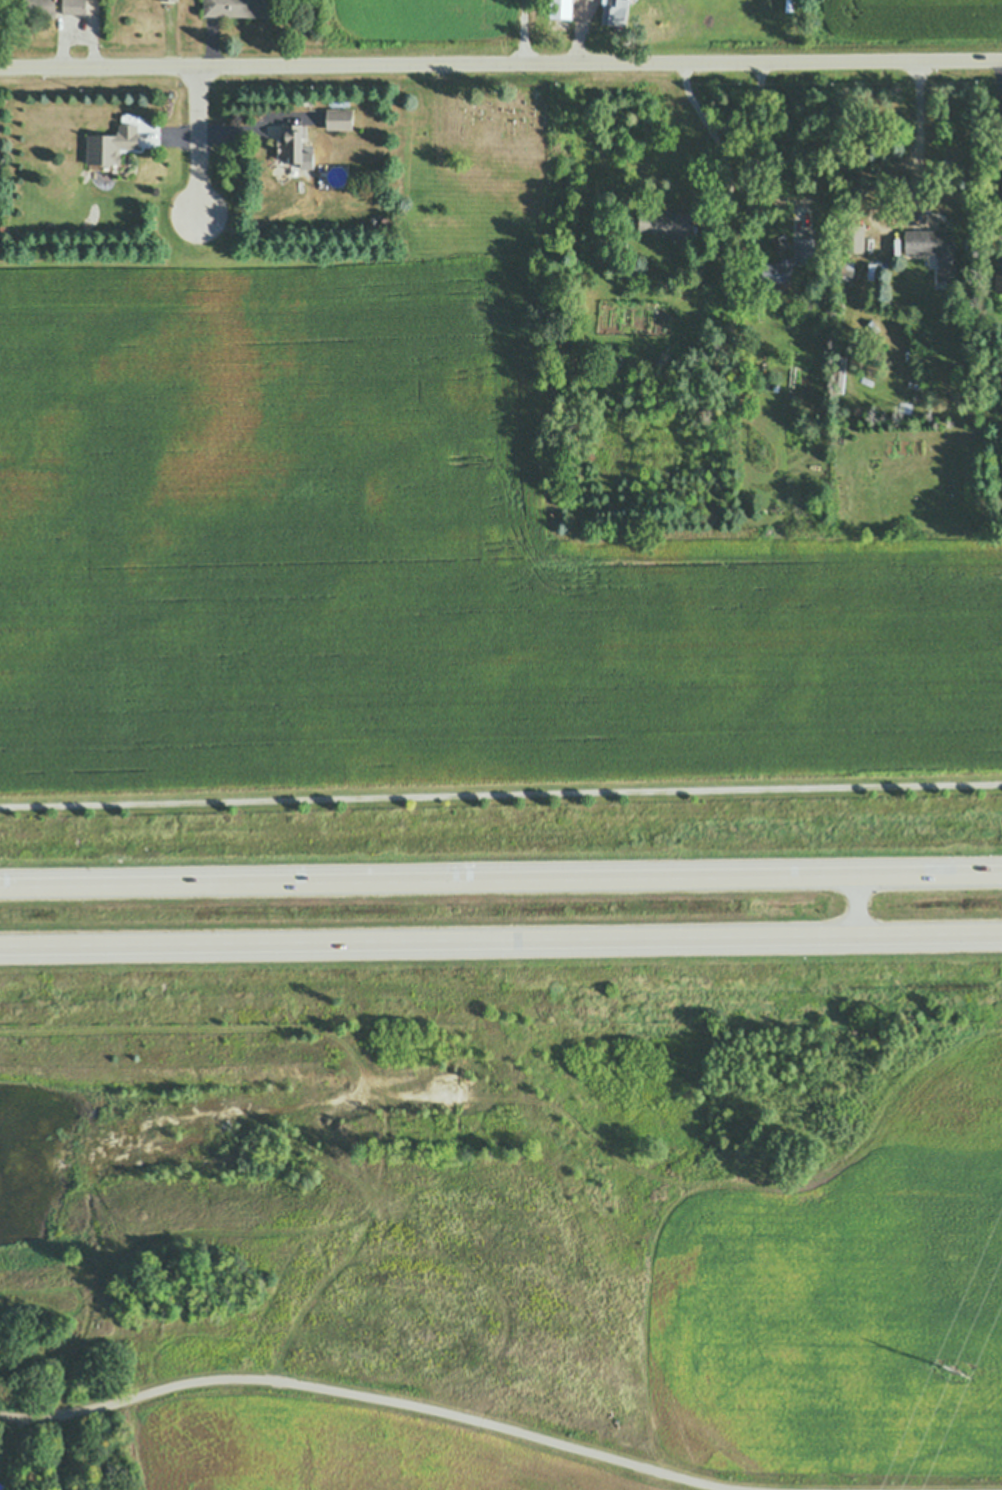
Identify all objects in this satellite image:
building: (170, 0)
building: (558, 1)
building: (75, 7)
building: (238, 7)
building: (42, 8)
building: (614, 12)
road: (501, 63)
building: (340, 118)
road: (1001, 127)
park: (504, 130)
road: (199, 140)
road: (916, 140)
building: (293, 142)
building: (112, 144)
road: (718, 144)
building: (304, 162)
building: (337, 176)
building: (300, 187)
building: (374, 220)
building: (386, 222)
building: (666, 223)
building: (2, 227)
building: (651, 236)
building: (855, 237)
building: (936, 250)
building: (805, 251)
building: (933, 257)
building: (777, 271)
building: (847, 271)
building: (1000, 281)
building: (840, 300)
building: (662, 363)
road: (500, 794)
road: (501, 880)
road: (501, 938)
building: (96, 1325)
power tower: (954, 1370)
road: (382, 1409)

